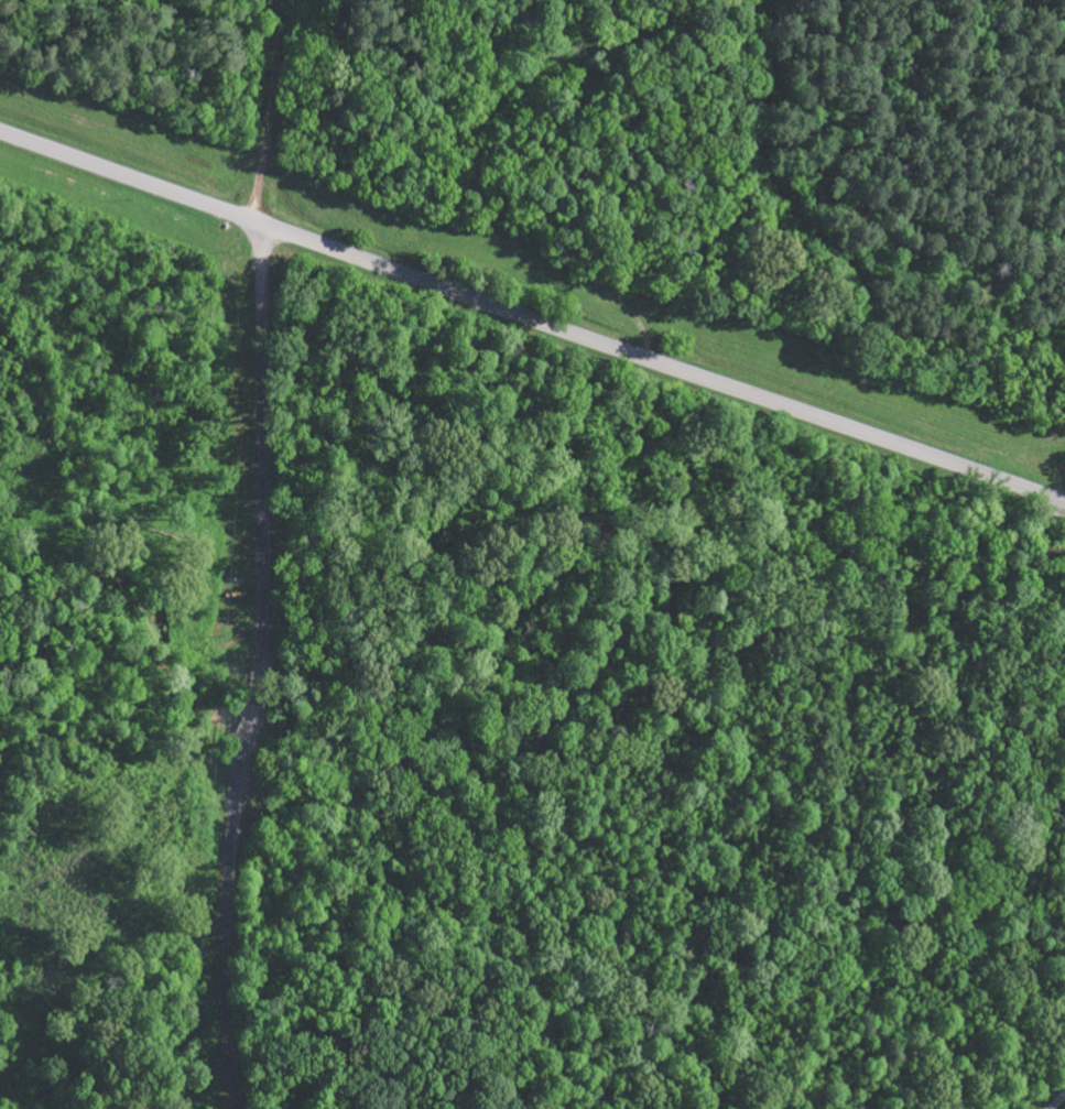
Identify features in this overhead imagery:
road: (270, 111)
road: (532, 317)
road: (259, 651)
road: (1034, 1026)
road: (980, 1085)
road: (239, 1094)

